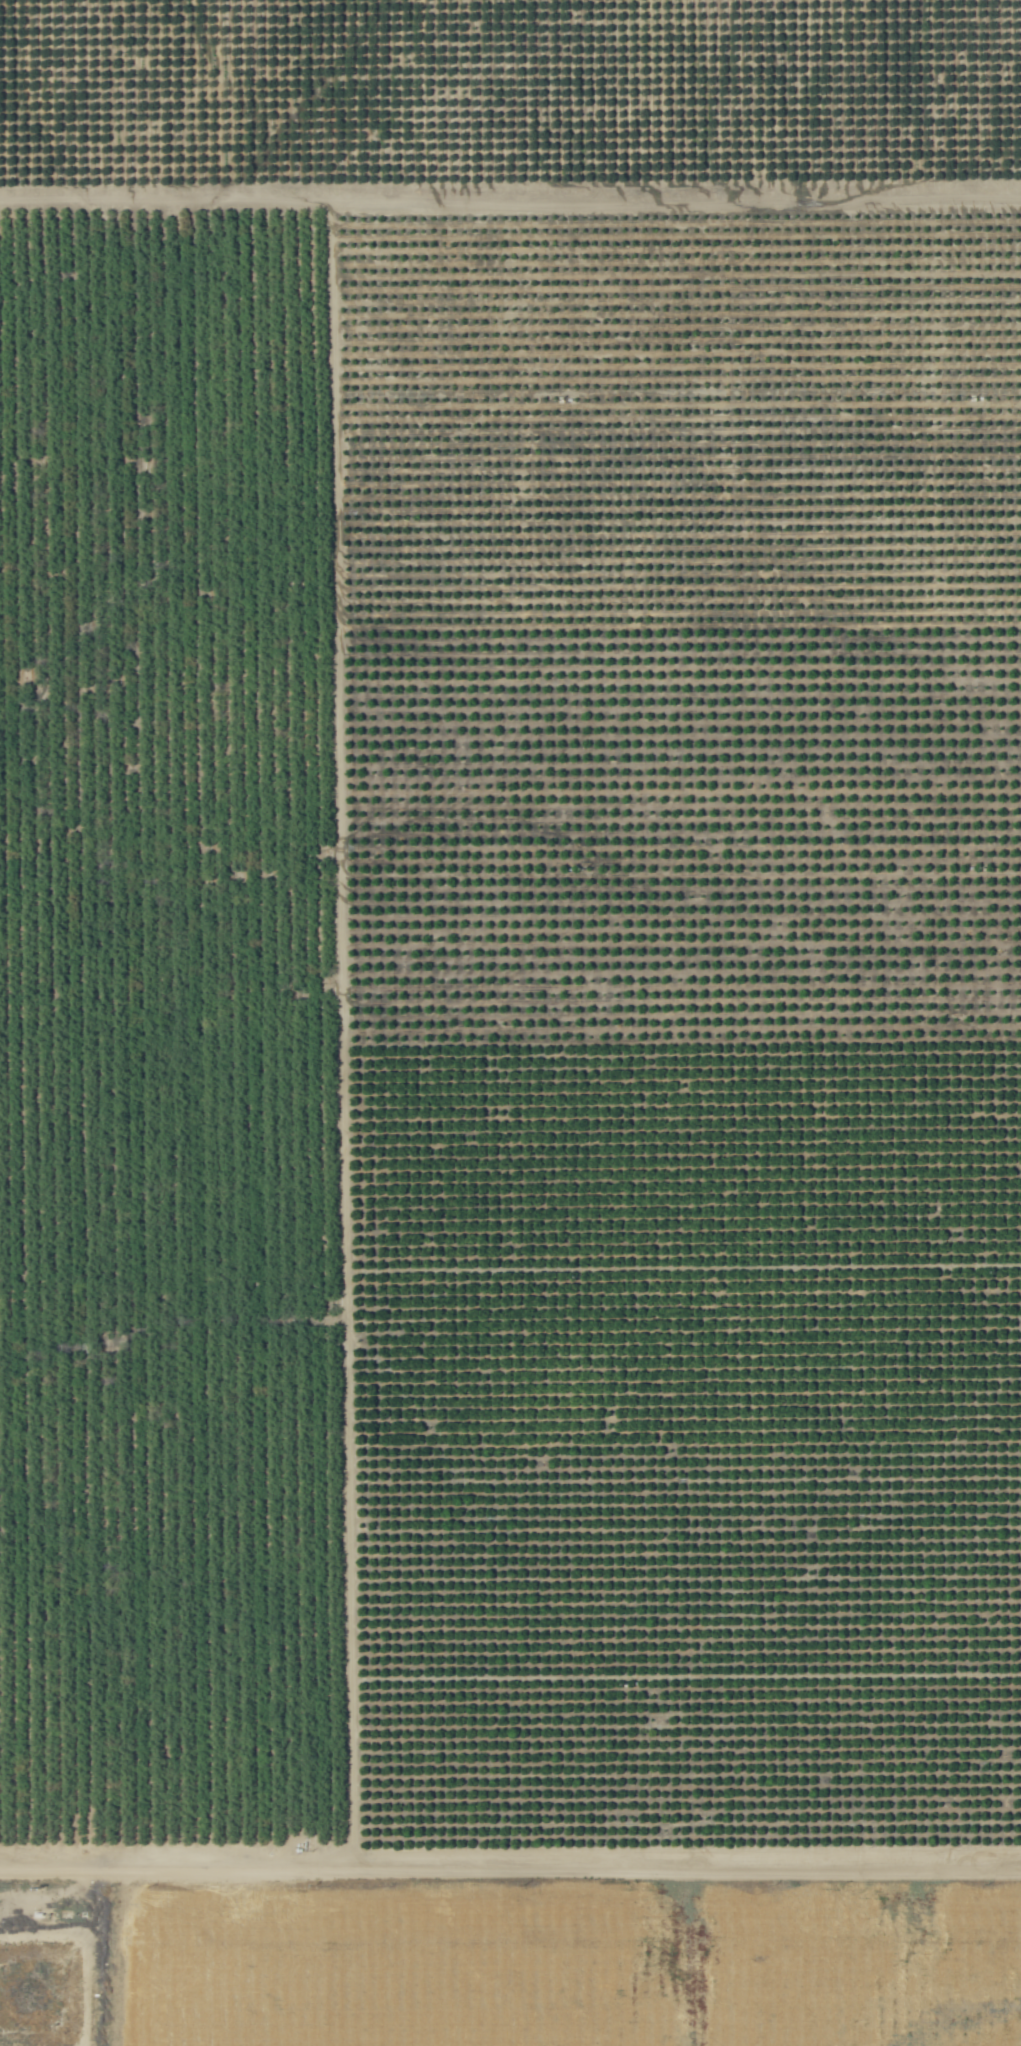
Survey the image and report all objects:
road: (510, 1870)

